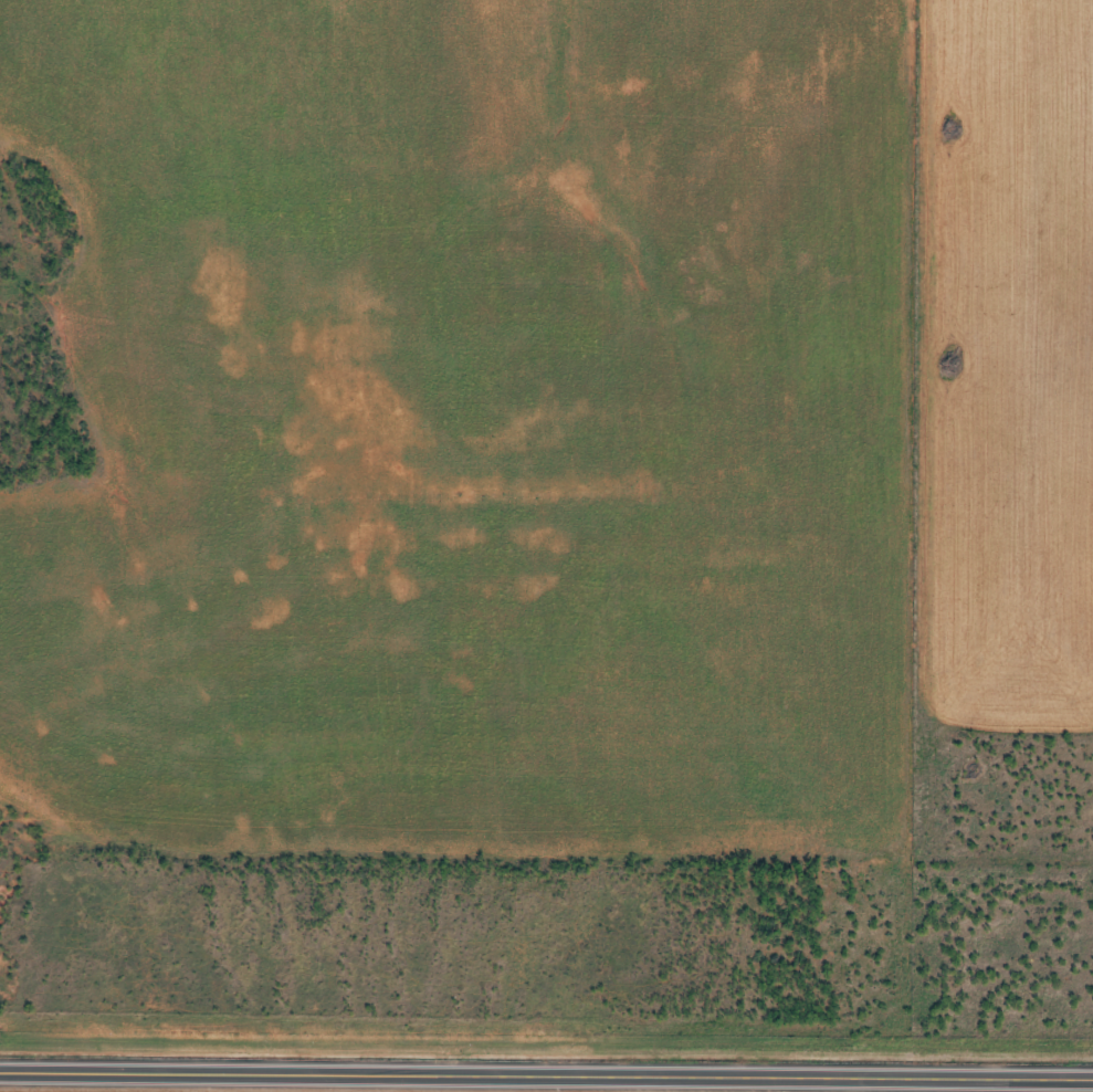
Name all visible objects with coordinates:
road: (546, 1078)

